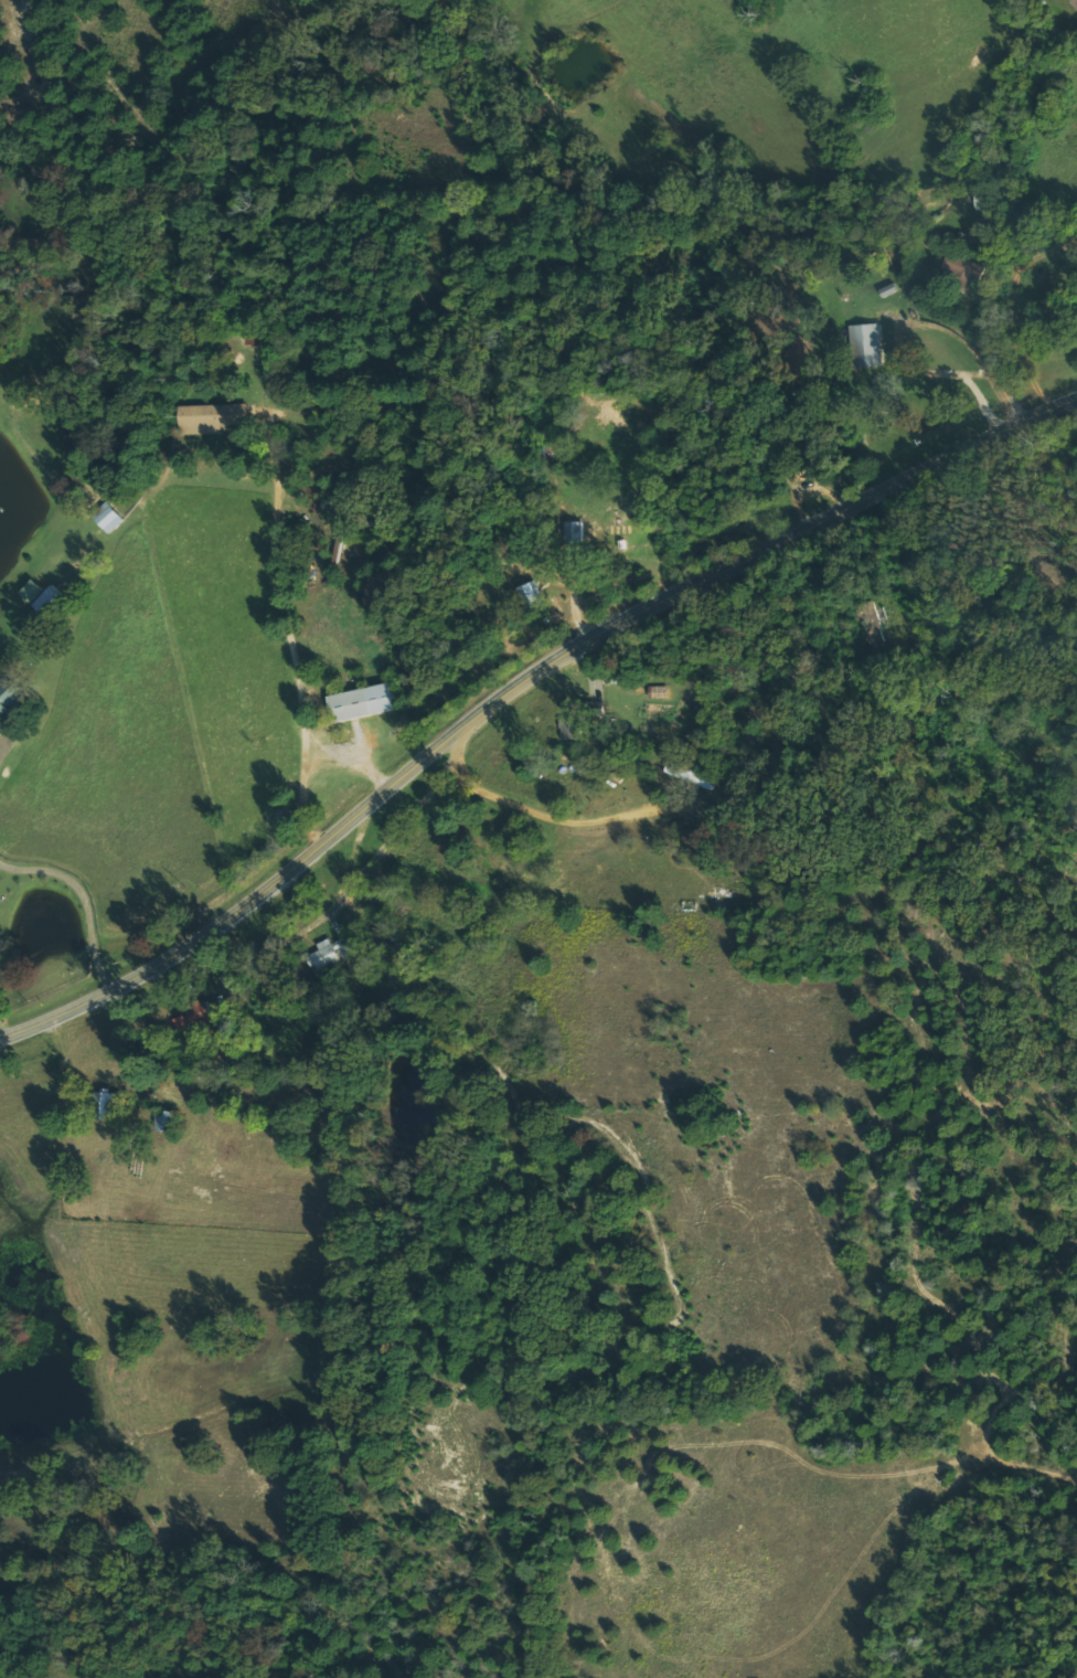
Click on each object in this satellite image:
building: (1074, 2)
building: (968, 274)
road: (897, 346)
building: (875, 352)
building: (218, 426)
building: (115, 523)
building: (573, 531)
building: (585, 540)
building: (529, 592)
building: (47, 596)
building: (540, 603)
road: (582, 608)
road: (289, 613)
road: (595, 673)
road: (518, 693)
road: (853, 693)
building: (671, 699)
building: (713, 700)
building: (12, 702)
building: (375, 710)
building: (579, 724)
road: (6, 748)
road: (370, 769)
building: (701, 782)
road: (301, 808)
road: (579, 829)
road: (87, 901)
building: (335, 953)
building: (110, 1103)

